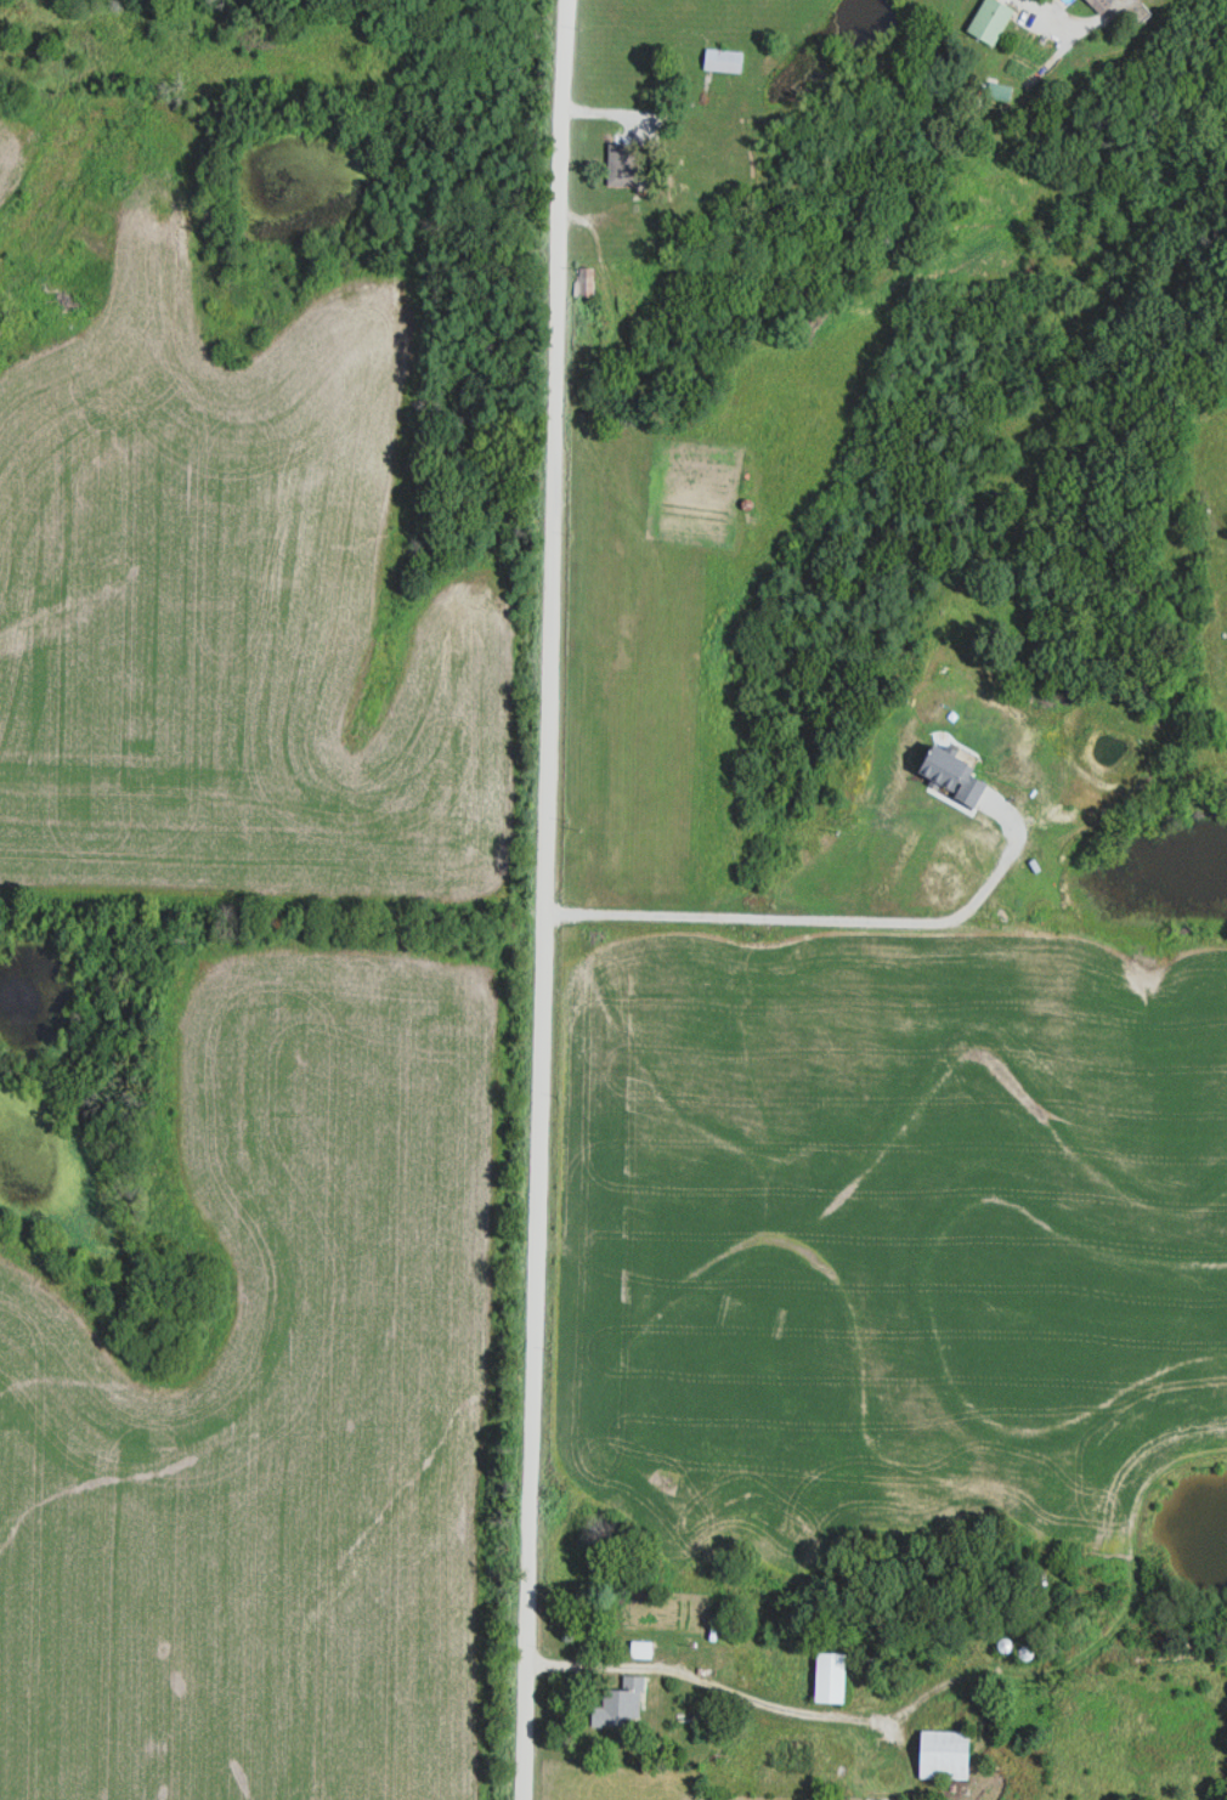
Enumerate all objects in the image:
building: (1106, 5)
building: (991, 19)
road: (1078, 21)
building: (725, 60)
road: (650, 117)
building: (624, 163)
road: (651, 196)
road: (547, 899)
building: (1007, 1645)
building: (643, 1648)
building: (832, 1675)
road: (709, 1683)
building: (620, 1704)
park: (1023, 1709)
building: (946, 1754)

